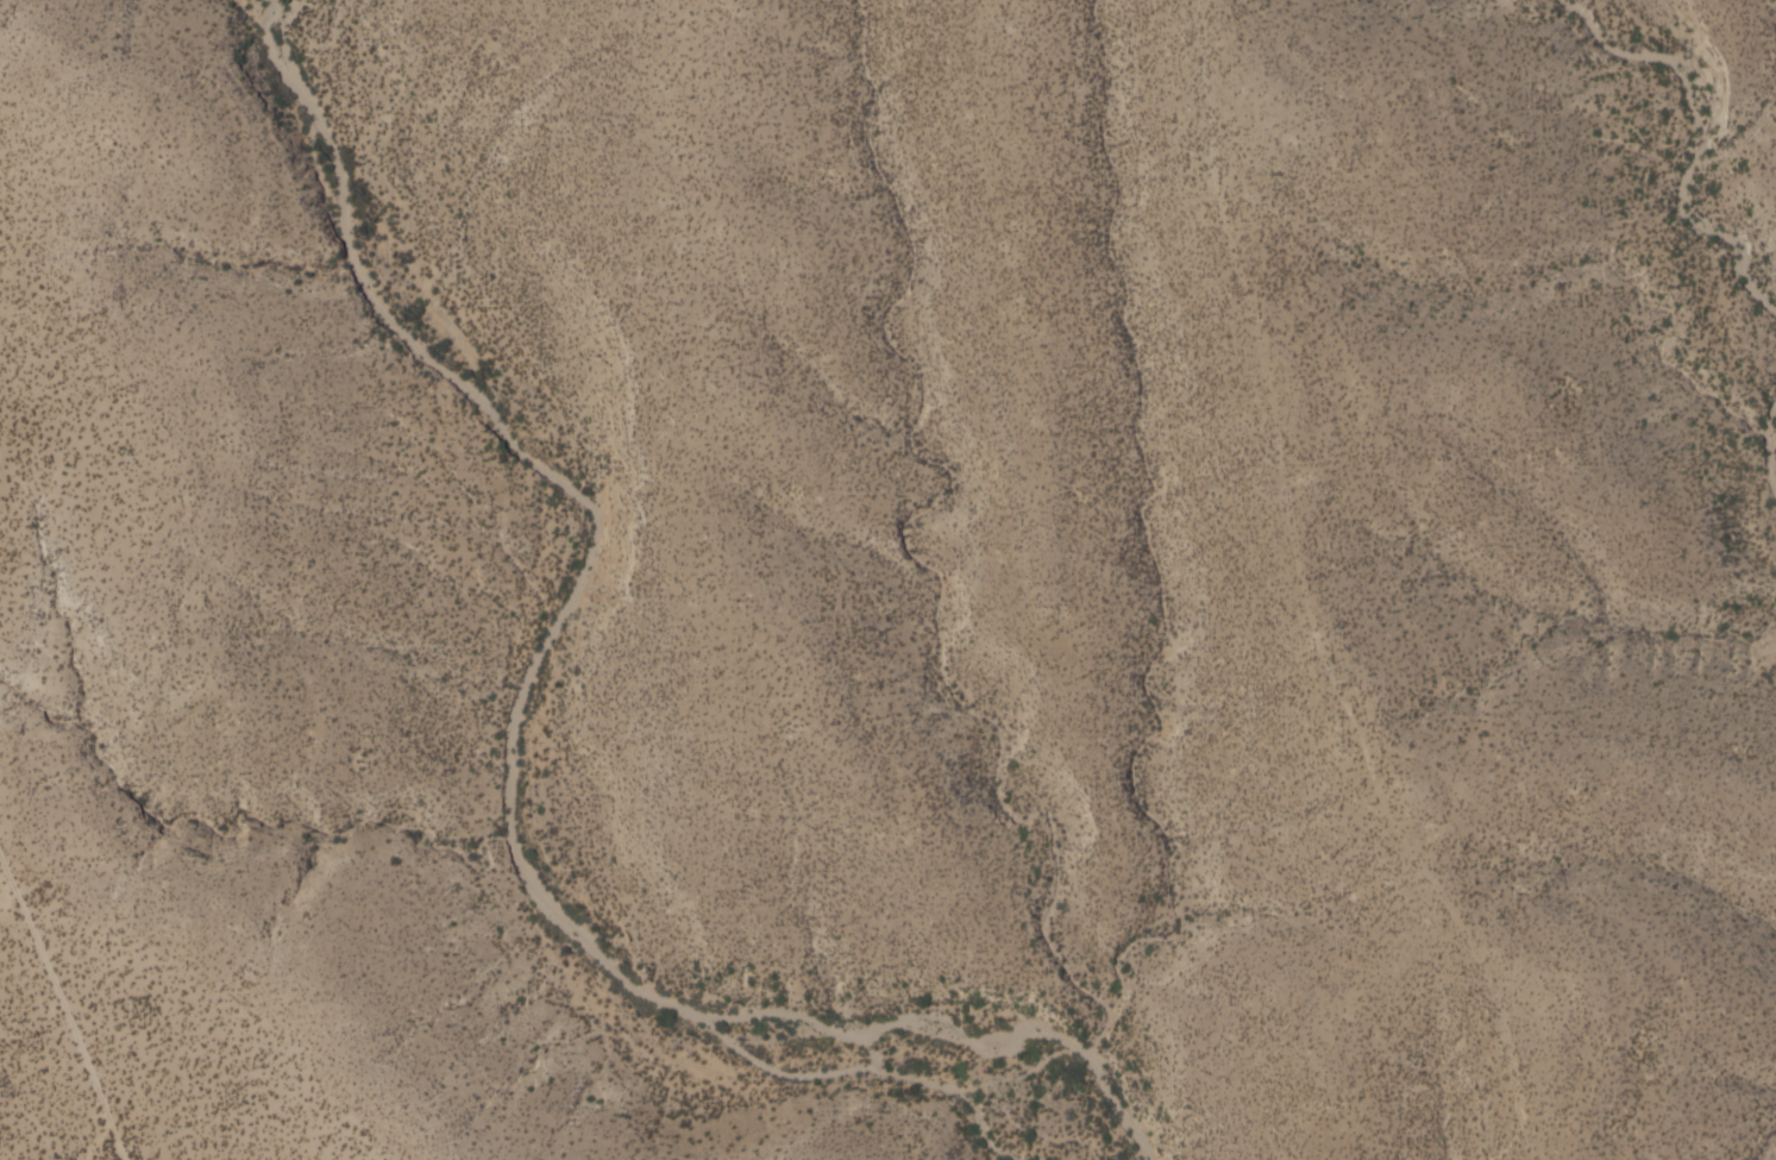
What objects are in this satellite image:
road: (64, 1011)

